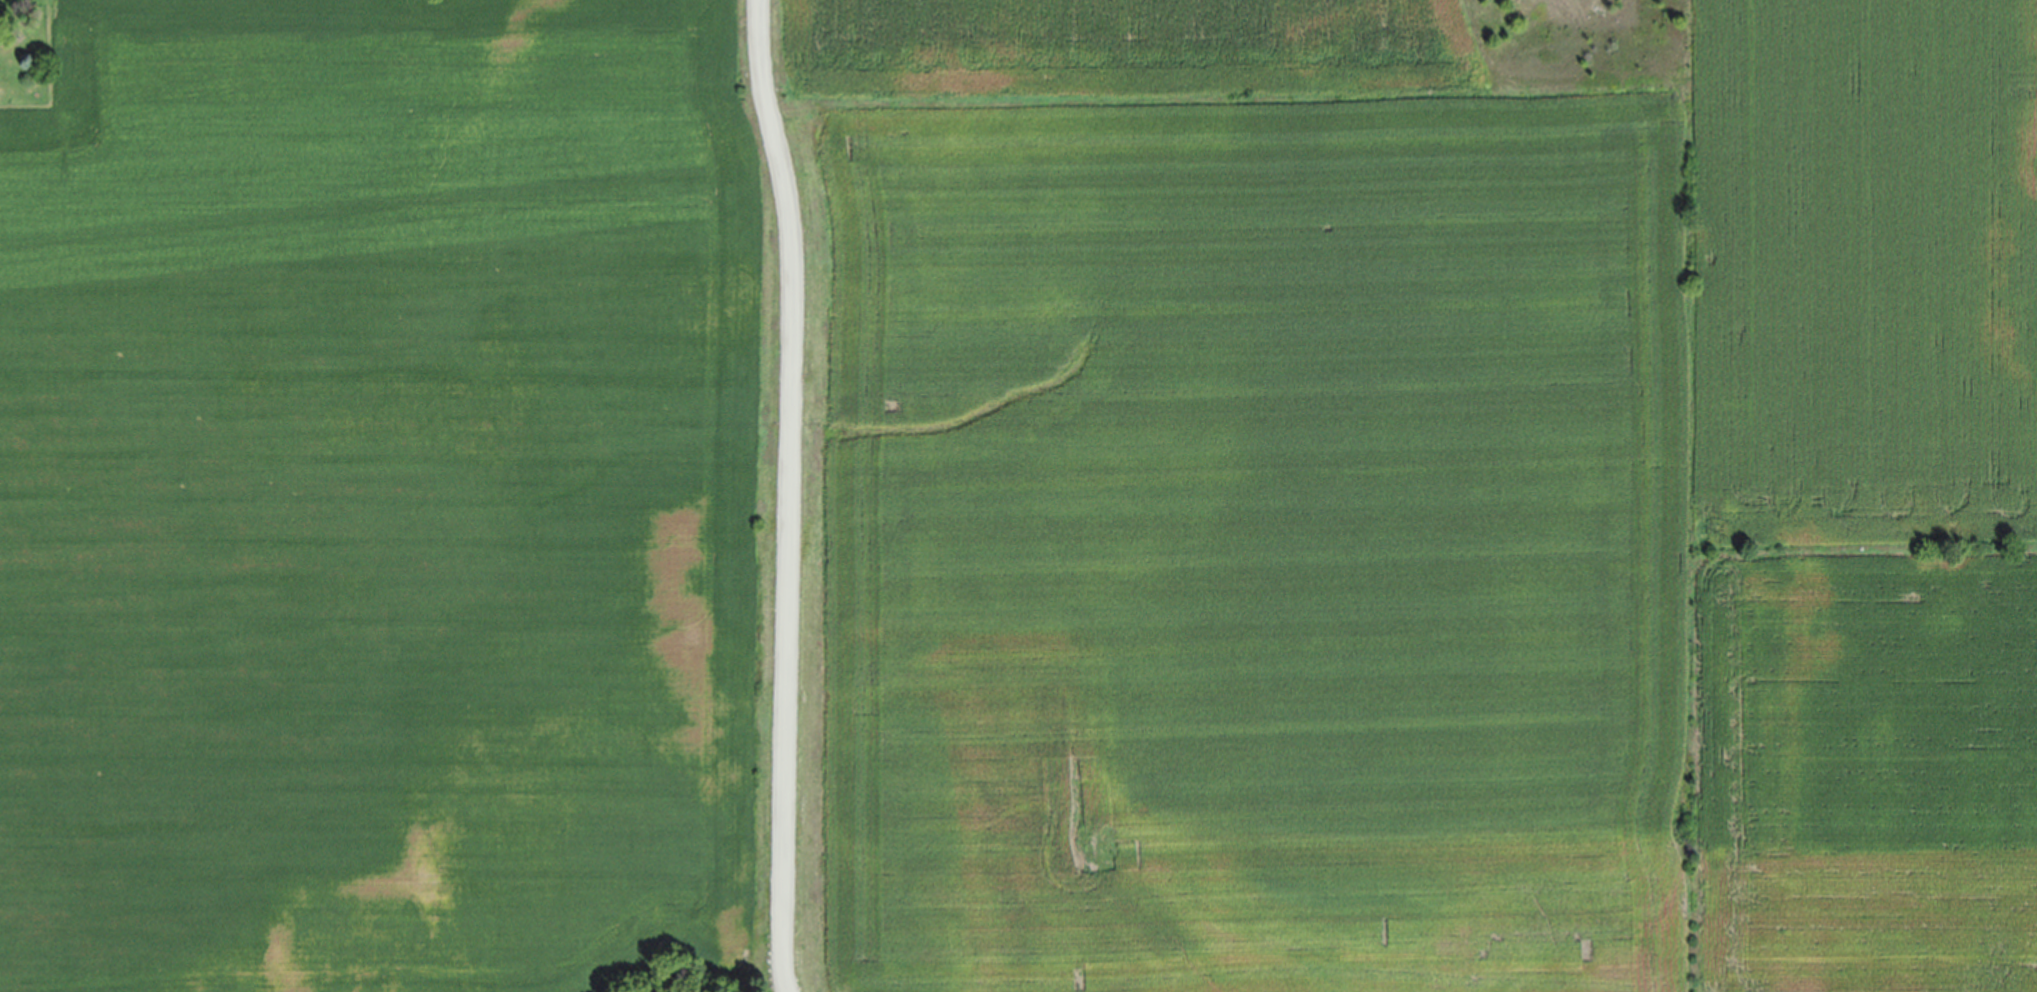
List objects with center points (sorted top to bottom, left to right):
road: (787, 494)

